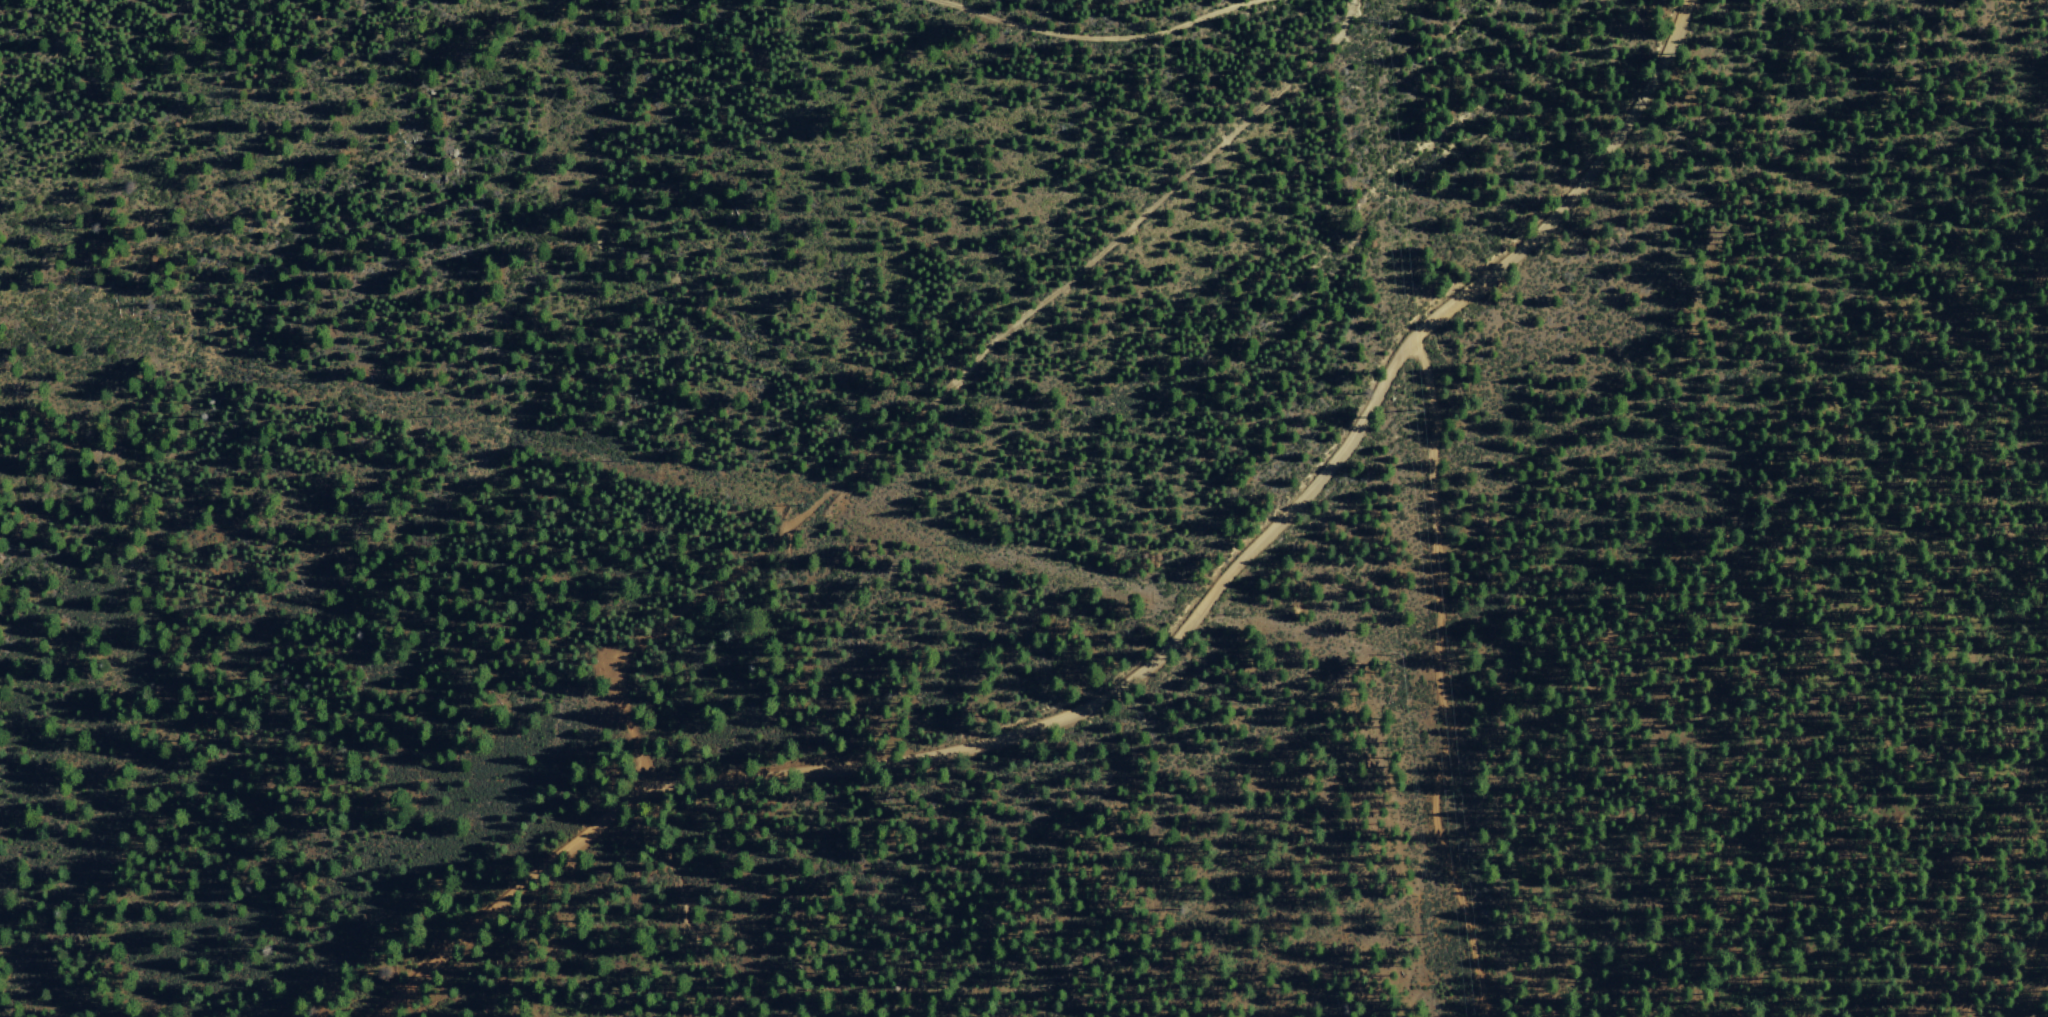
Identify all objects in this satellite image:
power tower: (1365, 19)
road: (1100, 40)
road: (944, 387)
power tower: (1402, 411)
road: (1146, 664)
road: (1438, 679)
power tower: (1437, 789)
road: (2026, 961)

